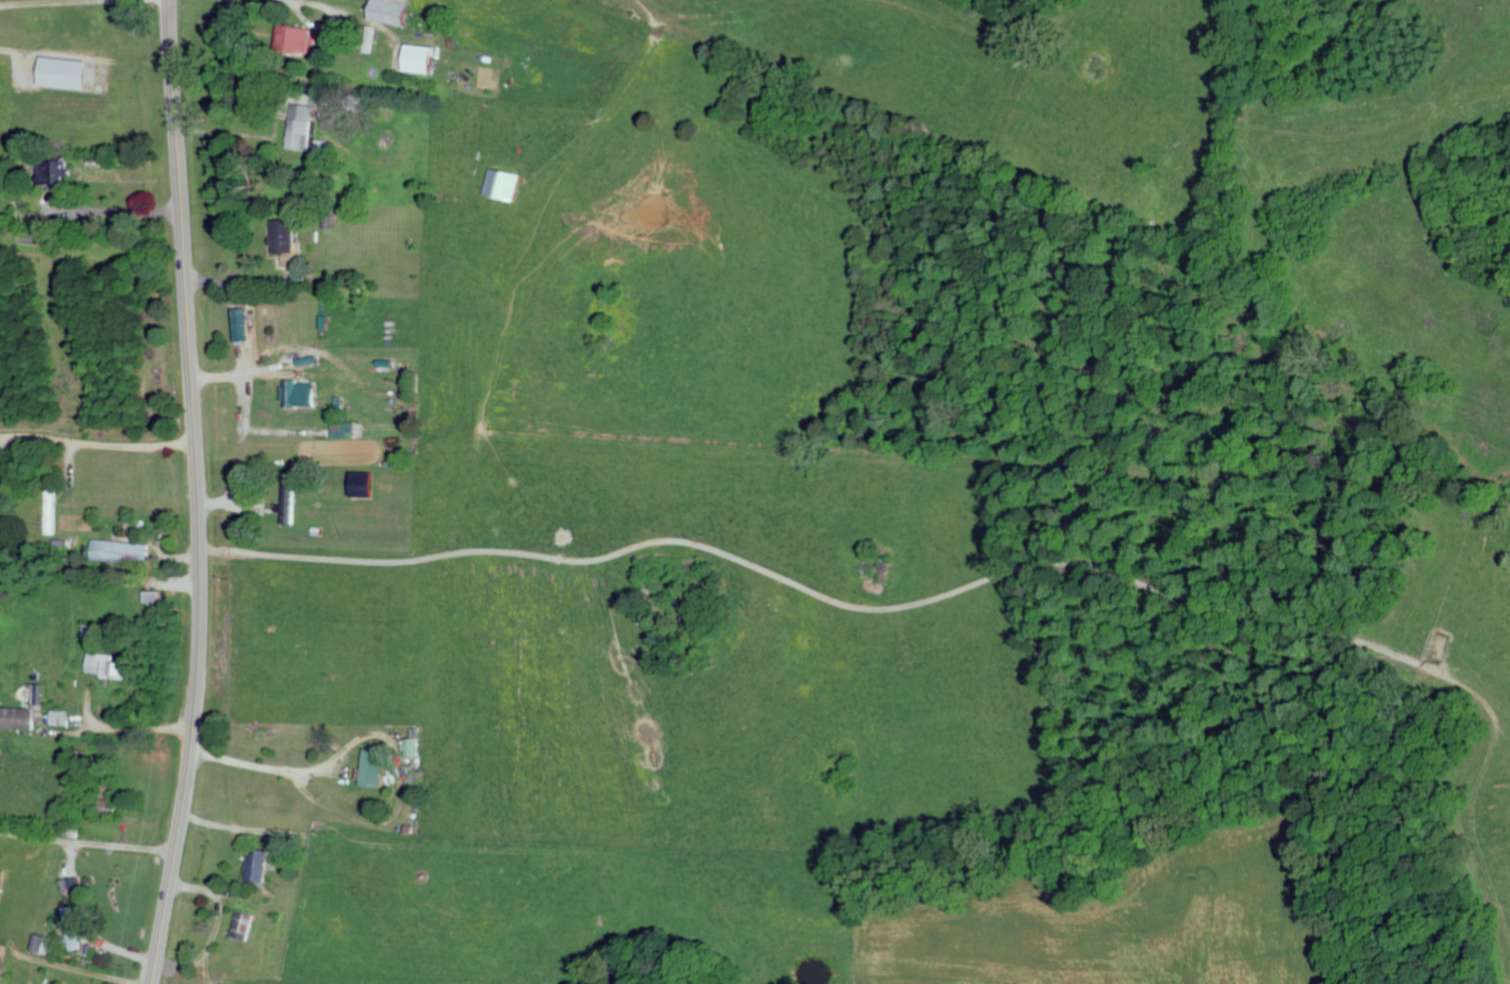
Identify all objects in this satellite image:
building: (394, 11)
building: (303, 37)
building: (424, 57)
building: (70, 72)
building: (304, 133)
building: (499, 184)
road: (120, 211)
building: (287, 236)
building: (245, 323)
building: (304, 393)
building: (346, 428)
building: (364, 485)
road: (197, 493)
building: (127, 550)
building: (118, 665)
building: (47, 693)
building: (22, 717)
building: (70, 717)
building: (415, 746)
building: (377, 767)
building: (263, 864)
building: (5, 883)
building: (246, 925)
building: (75, 927)
building: (46, 943)

